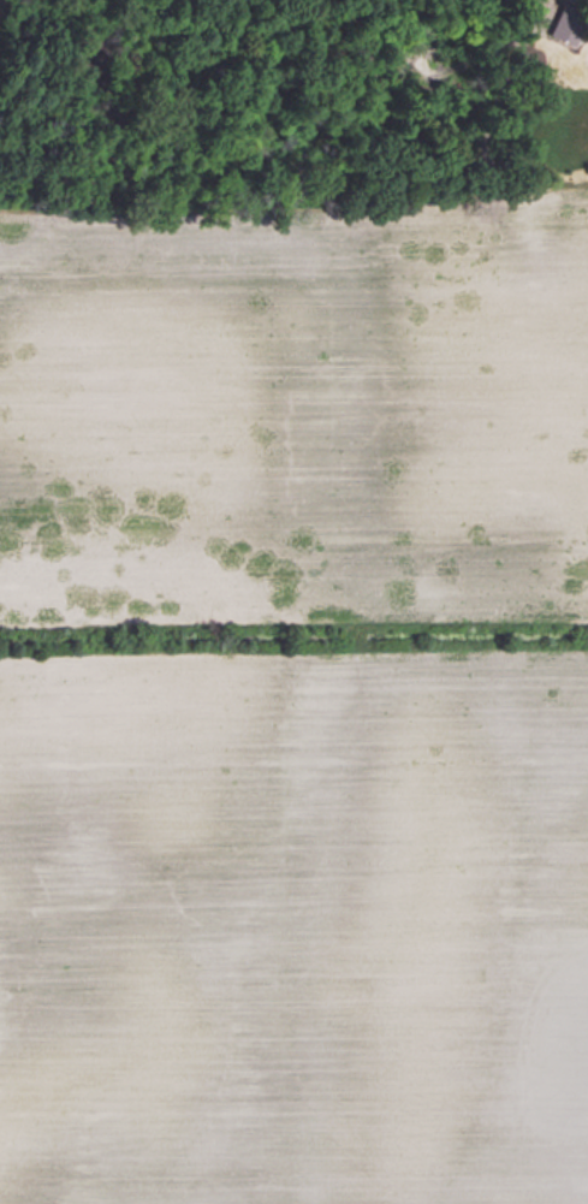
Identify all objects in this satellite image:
building: (566, 26)

